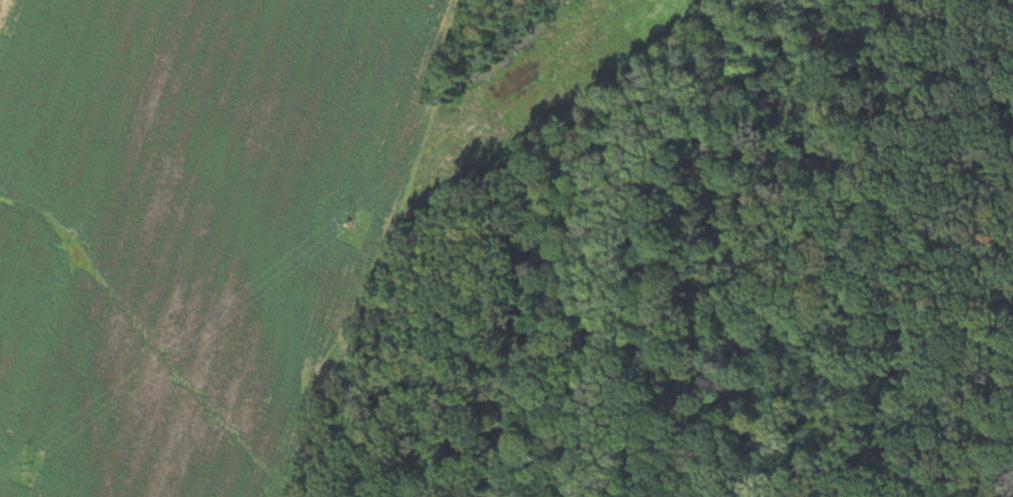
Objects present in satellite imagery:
road: (1, 3)
road: (65, 316)

